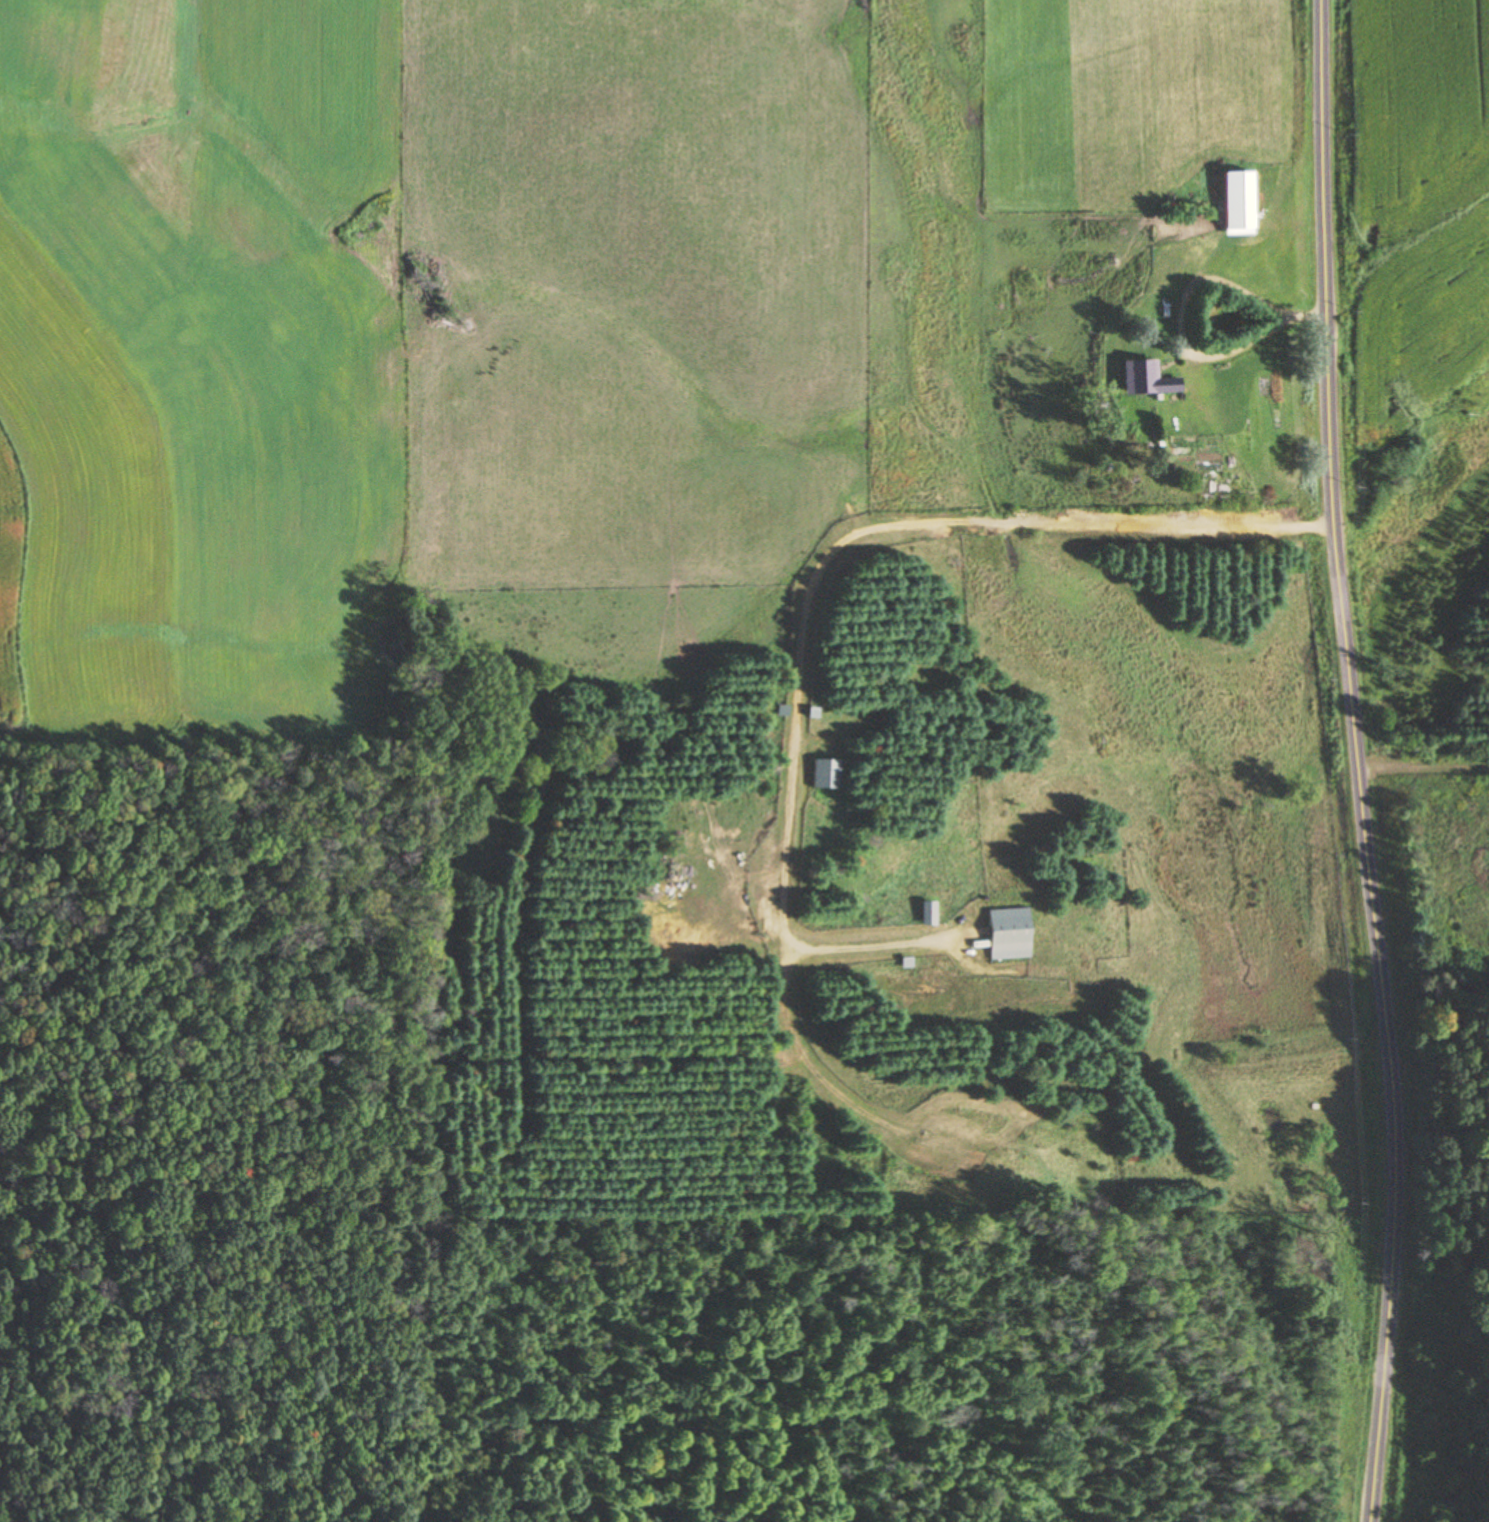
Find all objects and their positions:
building: (1138, 376)
road: (1353, 761)
building: (821, 773)
building: (923, 914)
building: (1003, 934)

